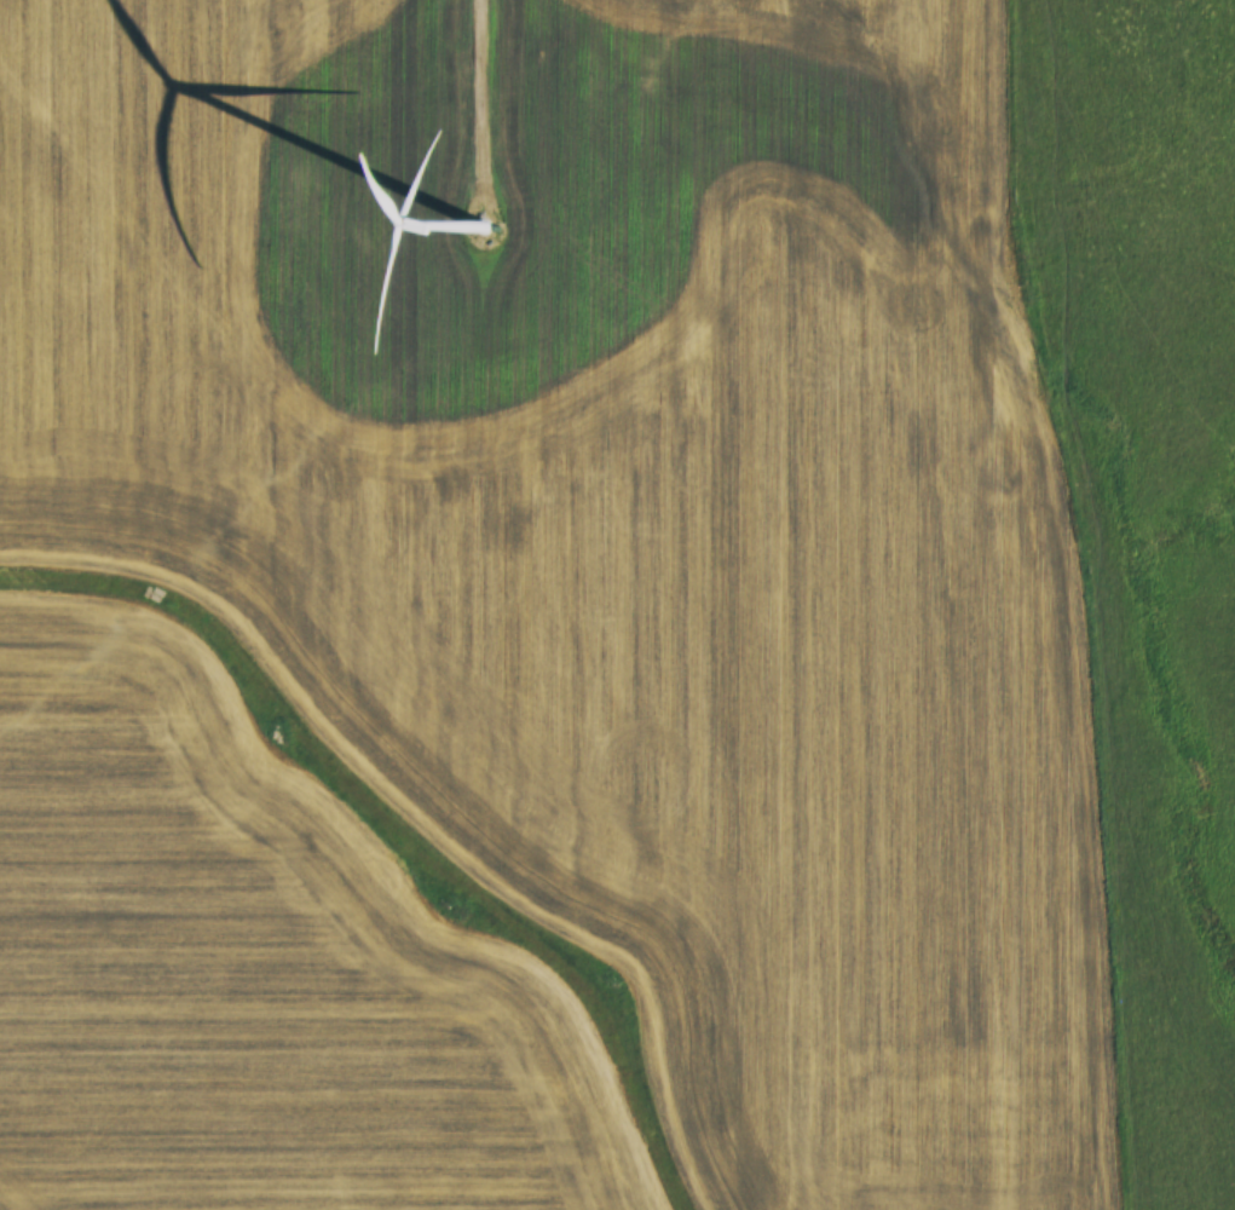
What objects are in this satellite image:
wind turbine: (486, 232)

